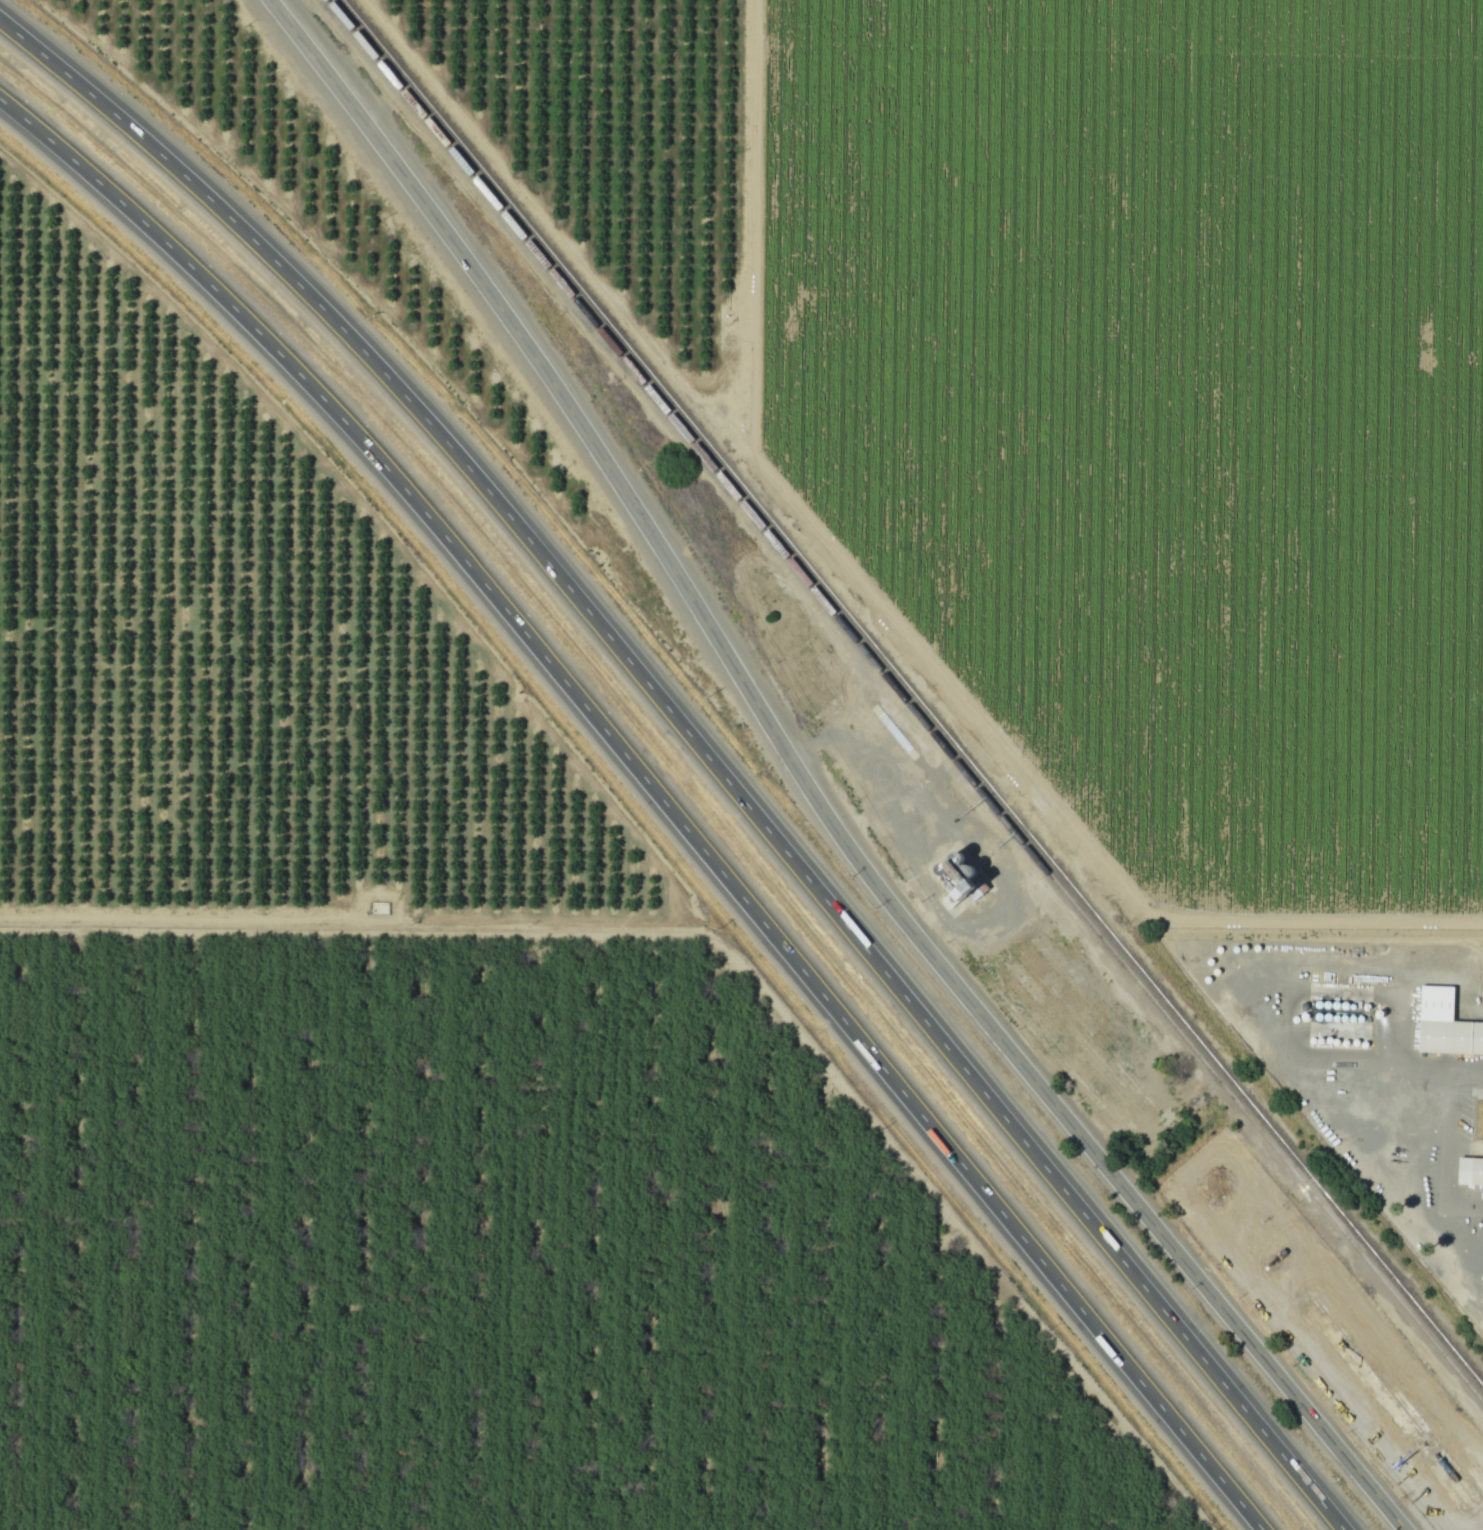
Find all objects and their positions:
road: (952, 622)
railway: (909, 701)
road: (699, 750)
road: (801, 786)
road: (657, 794)
road: (1457, 973)
road: (1289, 1023)
building: (1447, 1025)
road: (1342, 1064)
building: (1472, 1170)

